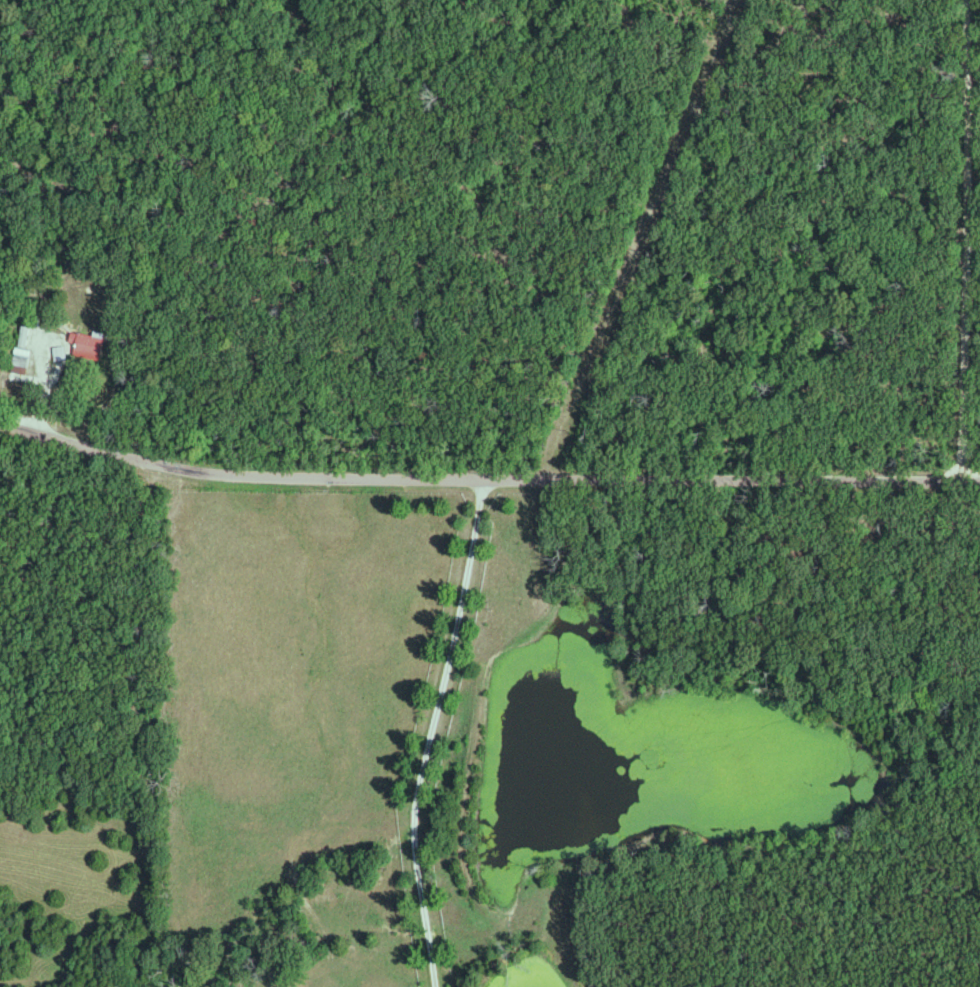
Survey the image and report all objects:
road: (968, 238)
building: (27, 335)
building: (63, 352)
road: (486, 478)
road: (431, 731)

